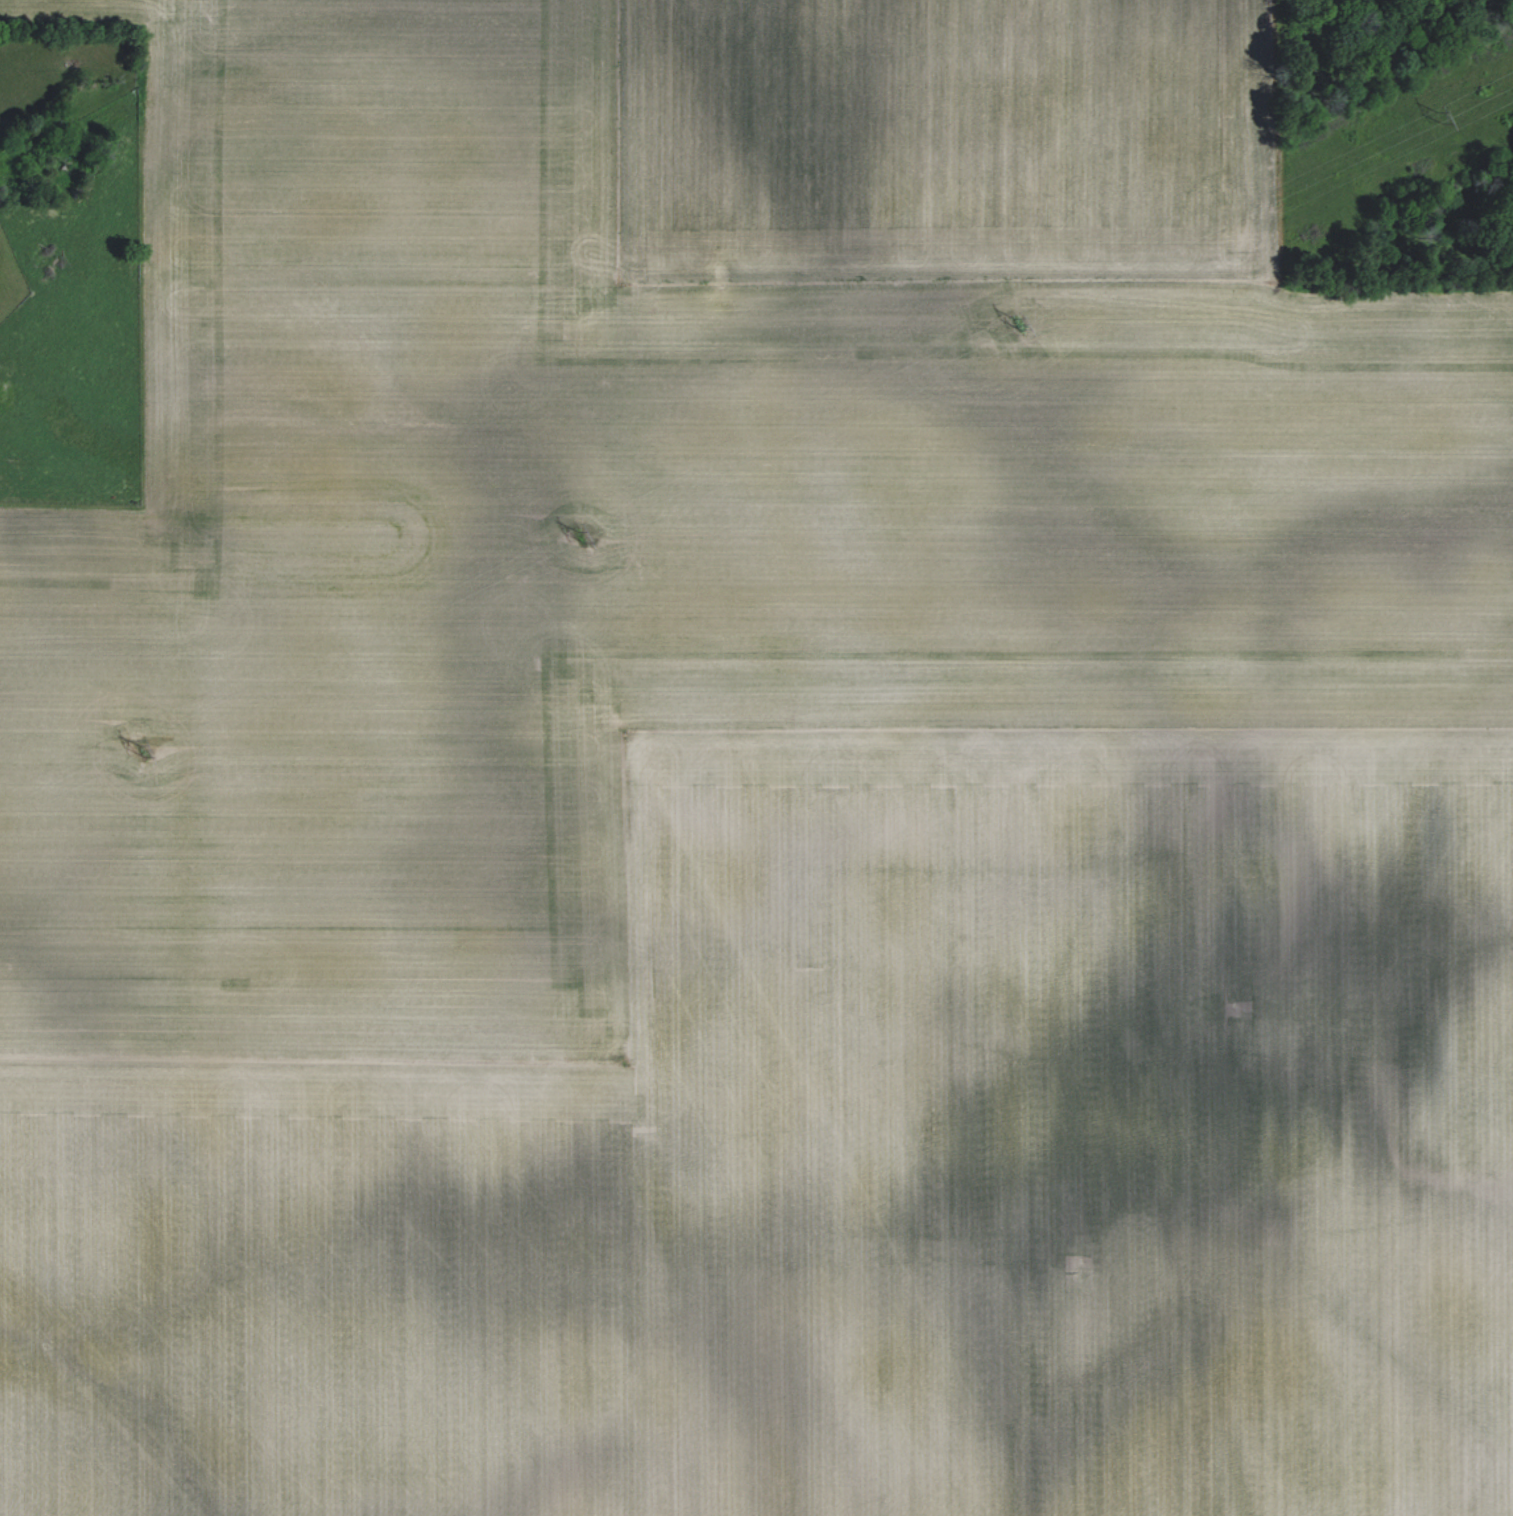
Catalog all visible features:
power tower: (1439, 118)
power tower: (1015, 324)
power tower: (582, 533)
power tower: (142, 750)

